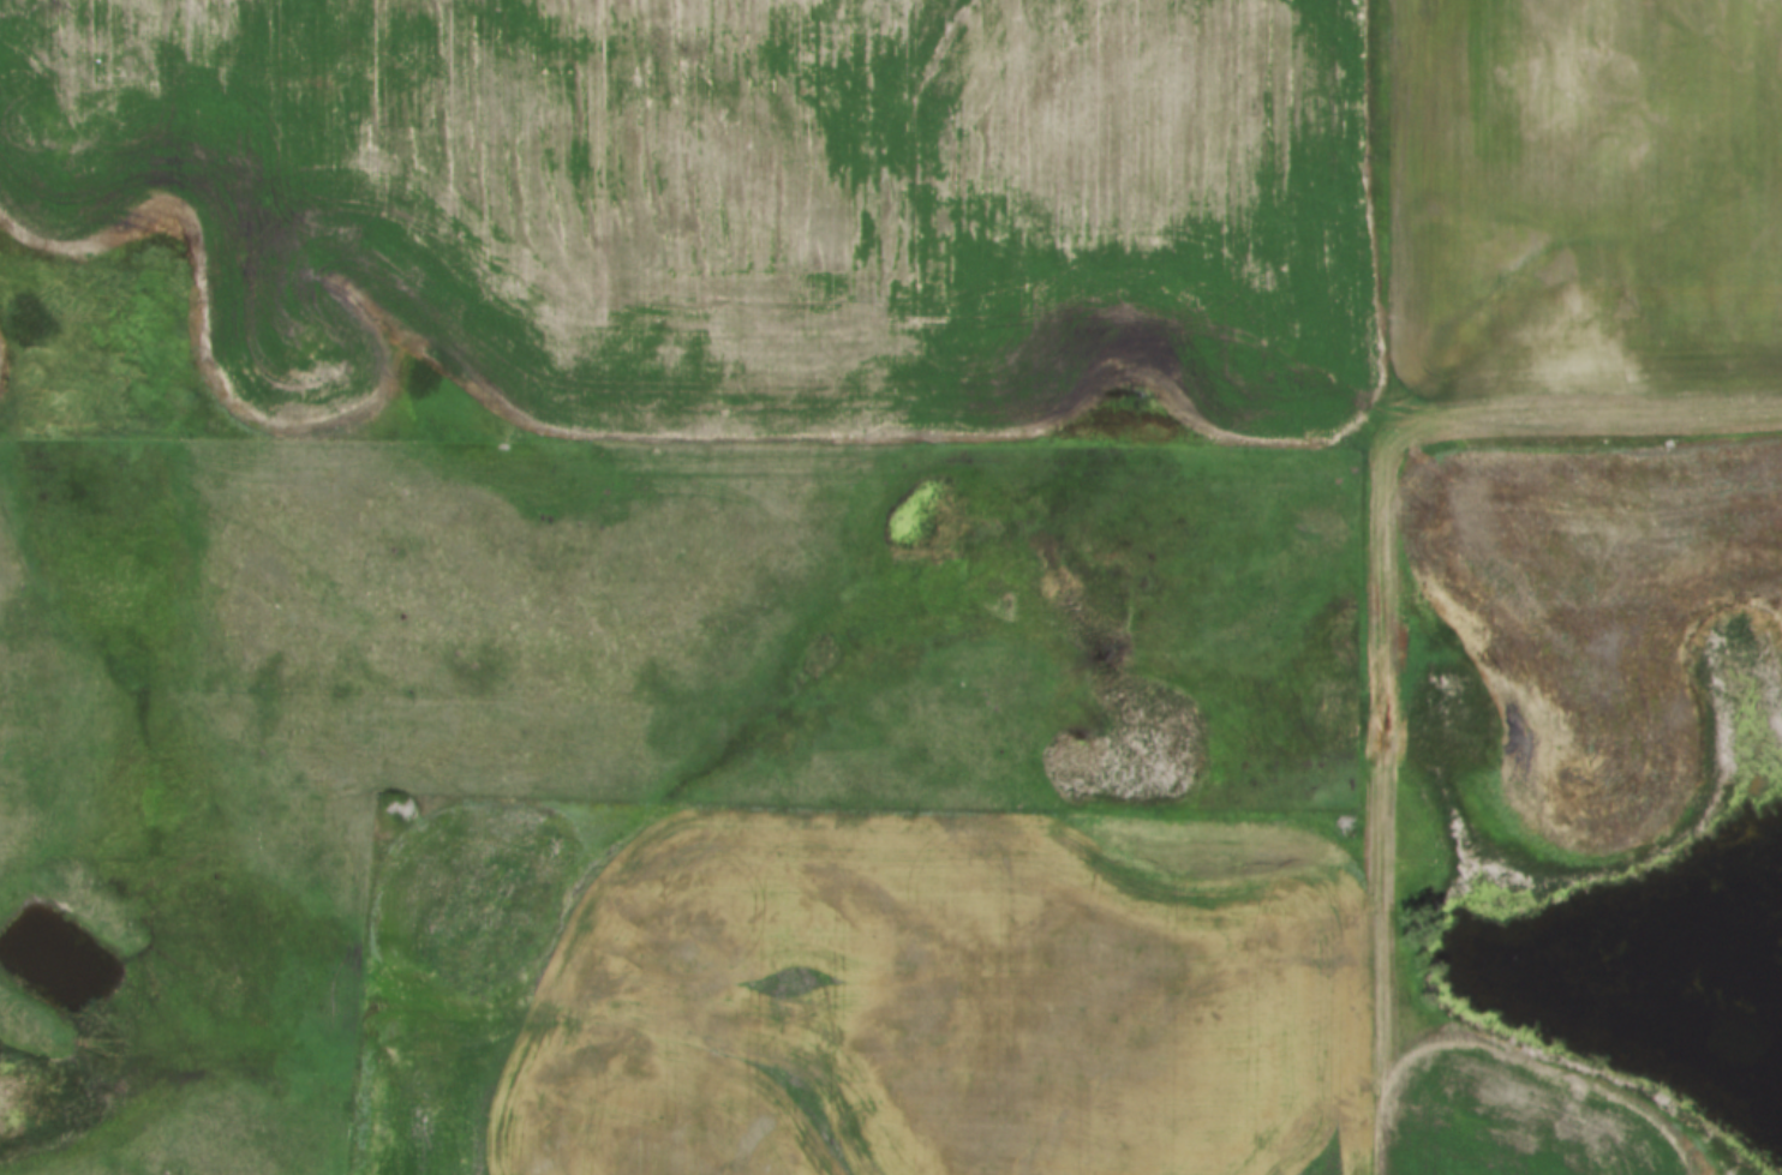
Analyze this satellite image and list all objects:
road: (1416, 1153)

